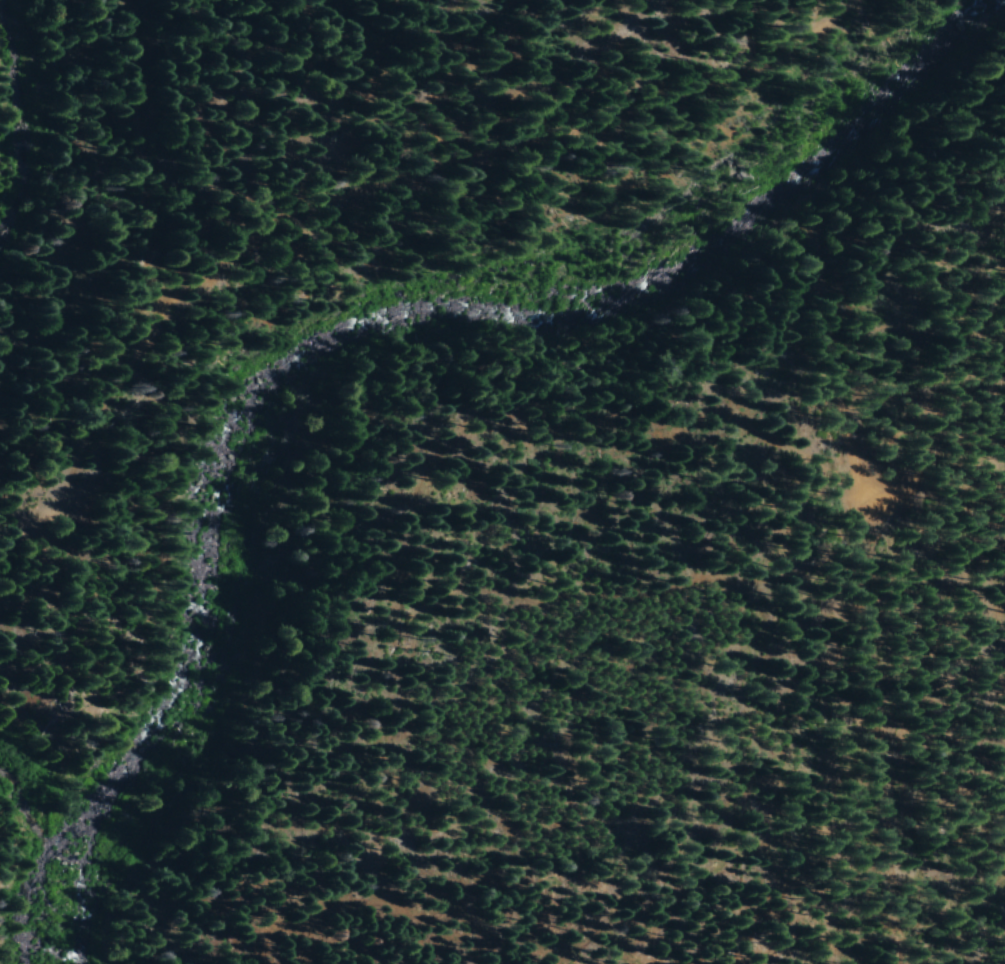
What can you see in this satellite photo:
road: (375, 192)

